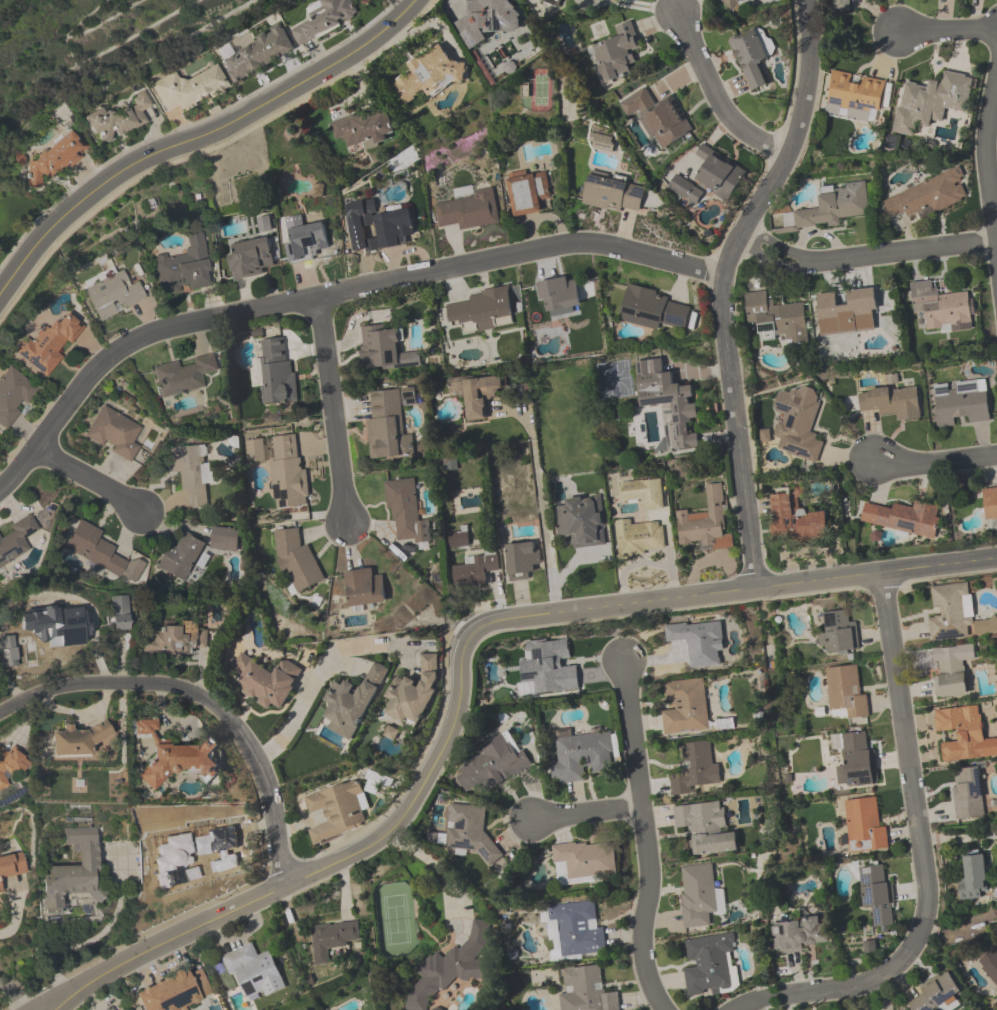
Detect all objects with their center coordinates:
building: (365, 1)
building: (552, 2)
building: (736, 4)
road: (647, 5)
building: (839, 6)
building: (324, 19)
building: (488, 20)
road: (992, 25)
road: (944, 31)
building: (258, 54)
building: (616, 55)
building: (750, 58)
building: (427, 76)
building: (190, 89)
building: (856, 93)
road: (717, 95)
building: (931, 101)
building: (658, 117)
building: (121, 120)
building: (364, 129)
road: (197, 137)
building: (602, 141)
building: (55, 158)
road: (985, 164)
building: (719, 173)
building: (684, 190)
building: (528, 192)
building: (613, 193)
building: (927, 196)
building: (830, 207)
building: (469, 209)
building: (394, 229)
building: (304, 239)
road: (864, 255)
building: (251, 259)
building: (184, 272)
road: (721, 285)
building: (559, 294)
road: (330, 295)
building: (114, 297)
building: (486, 309)
building: (651, 309)
building: (940, 309)
building: (847, 312)
building: (777, 318)
building: (52, 344)
building: (384, 349)
building: (274, 371)
building: (184, 375)
building: (481, 395)
building: (14, 396)
building: (667, 400)
building: (890, 401)
building: (960, 404)
road: (330, 412)
road: (529, 422)
building: (796, 422)
building: (390, 424)
building: (115, 433)
road: (932, 461)
building: (281, 469)
building: (192, 474)
road: (89, 480)
building: (642, 493)
building: (990, 504)
building: (405, 511)
building: (903, 518)
building: (795, 519)
building: (582, 521)
building: (706, 522)
road: (543, 527)
building: (638, 539)
building: (17, 540)
building: (458, 540)
building: (94, 549)
road: (710, 556)
building: (180, 558)
building: (521, 560)
building: (296, 561)
road: (643, 563)
building: (475, 570)
building: (364, 588)
building: (118, 612)
building: (955, 616)
building: (55, 624)
building: (839, 632)
building: (175, 638)
building: (698, 642)
road: (369, 645)
building: (6, 651)
road: (461, 659)
building: (951, 671)
building: (562, 679)
building: (265, 680)
building: (845, 691)
building: (413, 692)
road: (202, 700)
building: (350, 702)
road: (298, 705)
building: (685, 707)
building: (964, 734)
building: (78, 738)
building: (580, 756)
building: (175, 757)
building: (855, 759)
building: (11, 762)
building: (489, 766)
building: (695, 768)
building: (968, 795)
building: (335, 809)
road: (586, 811)
building: (864, 826)
building: (706, 828)
building: (469, 829)
road: (917, 829)
road: (644, 837)
building: (208, 845)
road: (429, 862)
building: (585, 863)
building: (11, 864)
building: (74, 871)
building: (974, 879)
building: (0, 887)
building: (876, 892)
building: (699, 895)
road: (12, 919)
building: (573, 929)
road: (98, 934)
building: (800, 935)
building: (332, 940)
building: (709, 964)
building: (990, 965)
building: (450, 967)
building: (254, 972)
building: (586, 990)
building: (937, 993)
road: (15, 994)
building: (160, 997)
road: (767, 999)
road: (747, 1004)
road: (49, 1005)
road: (58, 1005)
building: (111, 1009)

